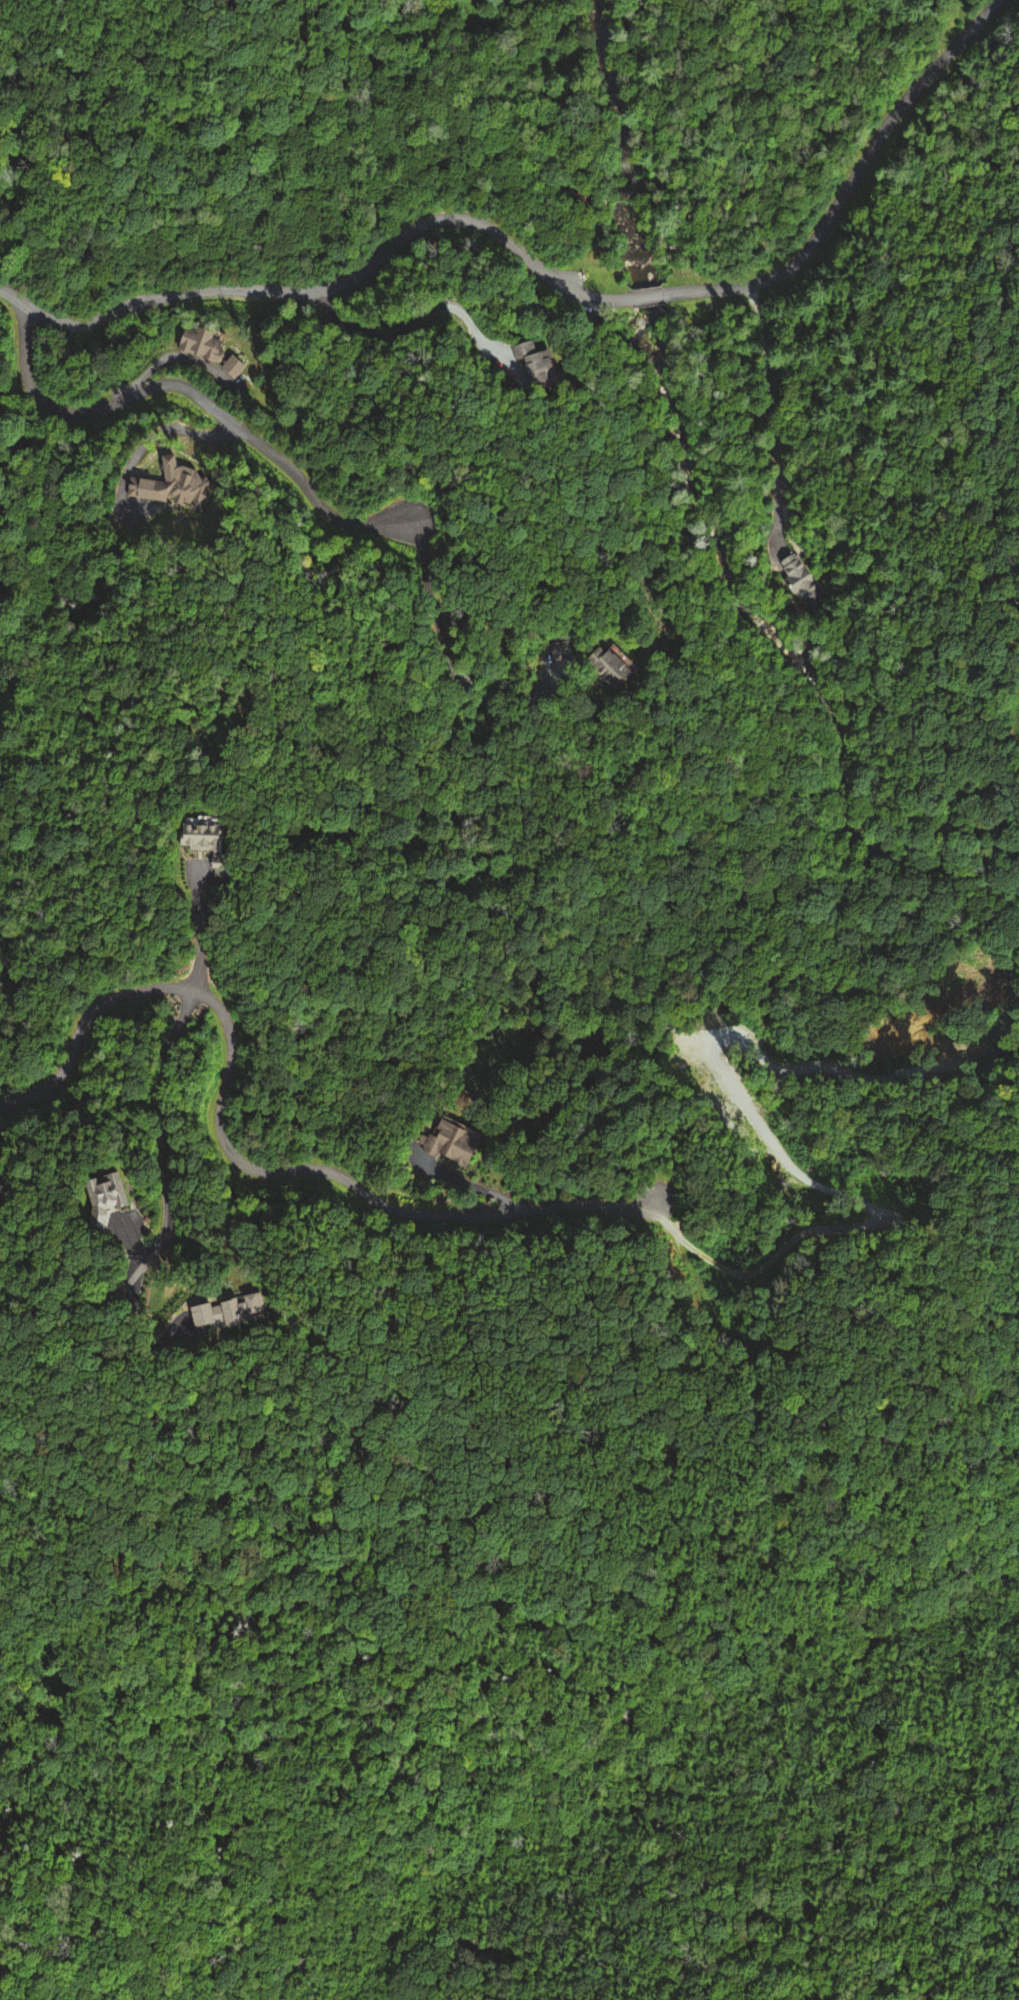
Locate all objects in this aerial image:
road: (849, 182)
road: (332, 286)
road: (647, 295)
building: (528, 363)
road: (197, 395)
building: (799, 578)
building: (555, 650)
building: (602, 666)
building: (192, 838)
road: (197, 926)
road: (163, 1135)
building: (446, 1142)
road: (236, 1159)
building: (97, 1189)
road: (640, 1777)

